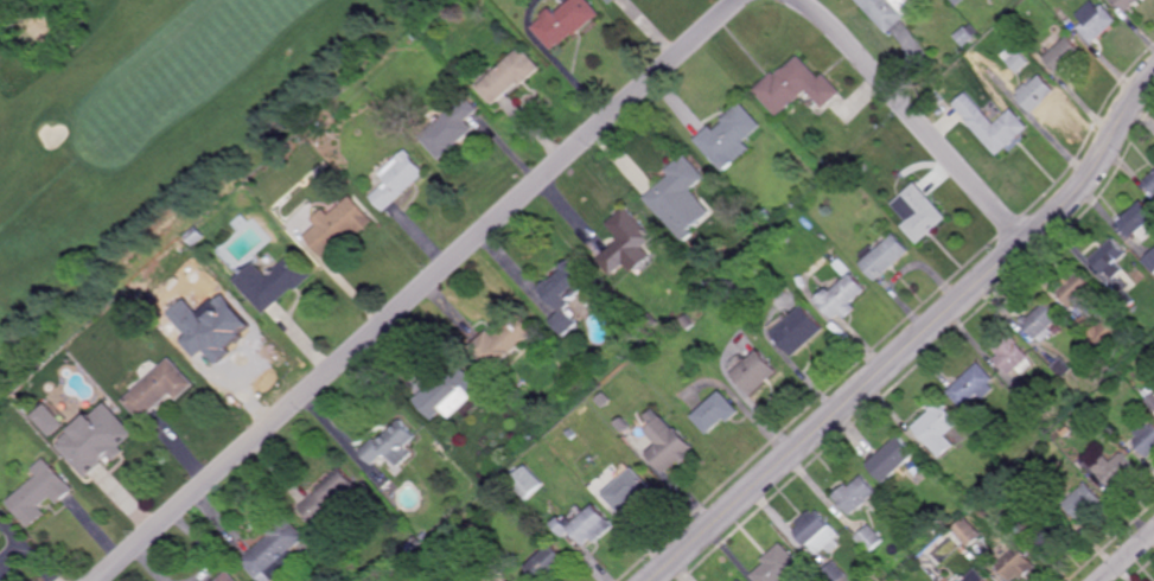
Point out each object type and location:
building: (613, 0)
building: (616, 1)
building: (959, 1)
building: (1129, 4)
building: (893, 11)
building: (1097, 21)
building: (570, 23)
building: (970, 36)
building: (1065, 56)
building: (1016, 59)
building: (969, 62)
building: (514, 76)
building: (798, 88)
building: (1035, 94)
building: (939, 98)
road: (916, 117)
building: (994, 126)
building: (453, 129)
building: (732, 138)
park: (151, 139)
building: (862, 167)
building: (400, 180)
building: (1150, 183)
building: (683, 199)
building: (922, 213)
building: (767, 216)
building: (1139, 221)
building: (340, 225)
building: (196, 236)
building: (771, 243)
building: (631, 244)
building: (186, 255)
building: (887, 256)
building: (1111, 257)
building: (1150, 258)
building: (842, 268)
building: (275, 281)
building: (1077, 286)
road: (419, 290)
building: (566, 293)
building: (844, 294)
building: (1127, 296)
building: (651, 320)
building: (1043, 320)
building: (687, 321)
building: (802, 328)
building: (1099, 330)
building: (224, 334)
road: (916, 340)
building: (1142, 341)
building: (502, 343)
building: (547, 343)
building: (1013, 355)
building: (1063, 366)
building: (758, 370)
building: (973, 384)
building: (159, 388)
building: (450, 391)
building: (1027, 396)
building: (1149, 396)
building: (604, 398)
building: (1016, 406)
building: (718, 410)
building: (49, 420)
building: (0, 423)
building: (625, 423)
building: (938, 427)
building: (573, 433)
building: (1145, 436)
building: (391, 443)
building: (670, 443)
building: (107, 446)
building: (893, 459)
building: (1082, 461)
building: (1114, 468)
building: (529, 481)
building: (629, 489)
building: (43, 491)
building: (857, 493)
building: (332, 496)
building: (1083, 502)
building: (1009, 513)
building: (589, 524)
building: (0, 525)
road: (13, 526)
building: (0, 531)
building: (820, 532)
building: (967, 532)
building: (1048, 532)
building: (425, 535)
building: (871, 538)
road: (31, 550)
building: (278, 551)
road: (1124, 554)
building: (886, 562)
building: (549, 564)
building: (1015, 564)
building: (778, 566)
building: (835, 572)
building: (974, 576)
building: (229, 577)
building: (945, 579)
building: (215, 580)
building: (739, 580)
building: (740, 580)
building: (898, 580)

